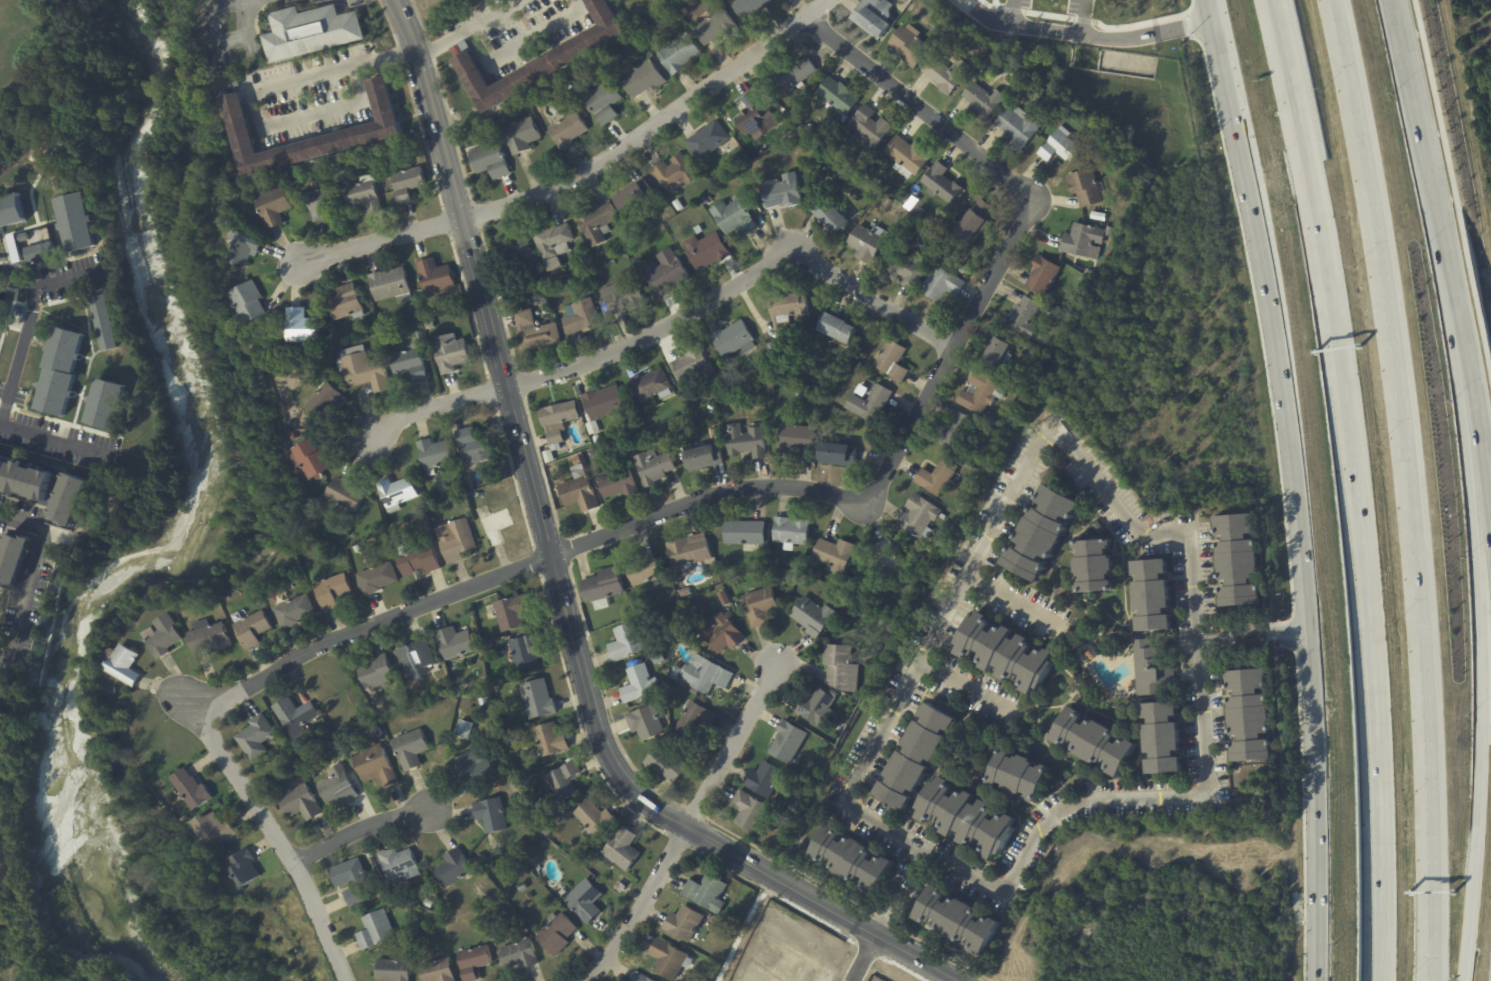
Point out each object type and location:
building: (911, 0)
road: (285, 2)
building: (748, 7)
road: (492, 13)
building: (872, 16)
road: (985, 16)
road: (1276, 21)
building: (714, 26)
road: (1036, 26)
building: (315, 34)
road: (1130, 35)
road: (440, 42)
road: (518, 42)
building: (910, 45)
road: (214, 47)
building: (368, 50)
building: (677, 53)
building: (536, 60)
building: (946, 73)
building: (791, 75)
building: (641, 79)
building: (569, 87)
road: (1226, 90)
building: (837, 95)
road: (250, 96)
building: (750, 99)
building: (601, 101)
building: (982, 101)
road: (1419, 106)
building: (516, 109)
building: (1043, 119)
building: (759, 122)
building: (1017, 126)
road: (649, 127)
building: (868, 127)
building: (566, 130)
building: (382, 131)
building: (519, 134)
building: (706, 137)
building: (1059, 147)
building: (906, 157)
building: (488, 160)
building: (870, 171)
building: (674, 173)
building: (408, 183)
building: (940, 183)
building: (1084, 188)
building: (780, 189)
building: (366, 196)
building: (632, 196)
building: (706, 199)
road: (1452, 199)
building: (887, 202)
building: (327, 204)
building: (677, 205)
building: (277, 209)
building: (11, 210)
building: (827, 214)
building: (734, 216)
building: (1097, 216)
building: (931, 220)
building: (974, 222)
building: (76, 223)
building: (595, 223)
building: (1110, 232)
building: (1082, 239)
road: (379, 240)
building: (552, 240)
building: (866, 242)
building: (16, 244)
building: (241, 249)
building: (705, 250)
building: (39, 252)
building: (513, 252)
road: (1451, 262)
building: (551, 264)
building: (904, 270)
building: (665, 273)
road: (731, 275)
building: (434, 276)
building: (1042, 276)
road: (61, 279)
building: (941, 283)
building: (390, 285)
building: (565, 286)
building: (622, 298)
building: (245, 302)
building: (543, 302)
building: (343, 303)
building: (0, 306)
building: (1046, 307)
building: (786, 313)
building: (1022, 316)
building: (580, 317)
building: (103, 323)
building: (427, 325)
building: (299, 327)
building: (835, 328)
building: (533, 331)
road: (23, 334)
building: (732, 339)
building: (996, 351)
building: (449, 353)
building: (891, 361)
building: (320, 363)
building: (408, 363)
building: (691, 365)
building: (362, 369)
building: (59, 371)
building: (650, 385)
building: (768, 389)
building: (980, 393)
building: (830, 399)
building: (323, 401)
building: (868, 401)
building: (604, 404)
building: (693, 404)
building: (105, 405)
road: (438, 411)
building: (1063, 414)
road: (1476, 414)
building: (558, 421)
building: (634, 426)
building: (593, 427)
building: (1076, 432)
building: (711, 433)
building: (958, 433)
building: (292, 437)
road: (49, 438)
building: (795, 438)
building: (596, 439)
building: (745, 441)
building: (618, 444)
building: (471, 447)
building: (629, 451)
building: (435, 454)
building: (836, 455)
building: (548, 456)
building: (702, 457)
building: (309, 458)
building: (654, 466)
building: (25, 477)
building: (936, 477)
building: (617, 484)
road: (818, 486)
road: (1408, 487)
building: (395, 493)
building: (346, 494)
building: (577, 494)
building: (69, 499)
road: (1358, 509)
building: (918, 518)
building: (412, 523)
building: (495, 526)
building: (1098, 528)
building: (789, 532)
building: (743, 533)
building: (1040, 533)
building: (351, 535)
building: (456, 541)
building: (356, 549)
building: (687, 551)
building: (832, 555)
building: (14, 558)
building: (418, 560)
building: (1236, 561)
building: (772, 562)
building: (883, 563)
building: (1094, 566)
building: (644, 569)
road: (30, 573)
building: (376, 579)
road: (1301, 579)
road: (557, 580)
building: (602, 588)
building: (733, 590)
building: (331, 591)
building: (685, 592)
building: (1151, 596)
building: (723, 598)
road: (1010, 601)
building: (254, 602)
building: (759, 605)
building: (292, 612)
building: (508, 613)
building: (811, 617)
road: (938, 620)
building: (886, 624)
building: (252, 629)
building: (722, 635)
road: (1248, 635)
building: (161, 636)
building: (206, 638)
building: (626, 643)
building: (453, 644)
road: (1477, 645)
building: (524, 652)
building: (1005, 653)
building: (1086, 653)
building: (415, 658)
building: (656, 659)
building: (119, 663)
building: (840, 669)
building: (1152, 672)
building: (375, 674)
building: (674, 674)
building: (703, 675)
building: (638, 685)
road: (959, 687)
building: (111, 691)
building: (536, 700)
building: (482, 703)
building: (815, 706)
building: (390, 708)
building: (460, 715)
building: (1247, 715)
building: (292, 717)
building: (692, 720)
building: (645, 721)
building: (462, 730)
building: (375, 733)
road: (729, 737)
building: (253, 738)
building: (1161, 738)
building: (548, 740)
building: (1093, 742)
building: (787, 744)
building: (410, 749)
building: (916, 756)
building: (665, 765)
building: (374, 766)
building: (471, 769)
building: (1017, 776)
building: (562, 782)
building: (763, 782)
building: (1059, 782)
building: (338, 787)
building: (193, 789)
building: (526, 793)
road: (1199, 796)
building: (299, 803)
building: (793, 808)
building: (748, 812)
building: (490, 816)
building: (188, 818)
building: (966, 818)
building: (592, 821)
road: (356, 828)
building: (215, 831)
road: (274, 836)
building: (519, 845)
building: (620, 851)
building: (851, 860)
building: (528, 861)
building: (582, 862)
road: (918, 866)
building: (398, 867)
building: (245, 868)
building: (452, 869)
building: (351, 882)
building: (521, 888)
building: (618, 888)
building: (705, 892)
building: (528, 896)
building: (581, 899)
building: (427, 904)
road: (888, 904)
road: (637, 908)
road: (897, 910)
building: (957, 921)
building: (732, 922)
building: (682, 923)
building: (373, 931)
building: (555, 934)
road: (738, 934)
building: (518, 954)
road: (863, 958)
building: (667, 959)
building: (472, 962)
building: (391, 971)
building: (435, 971)
building: (637, 977)

